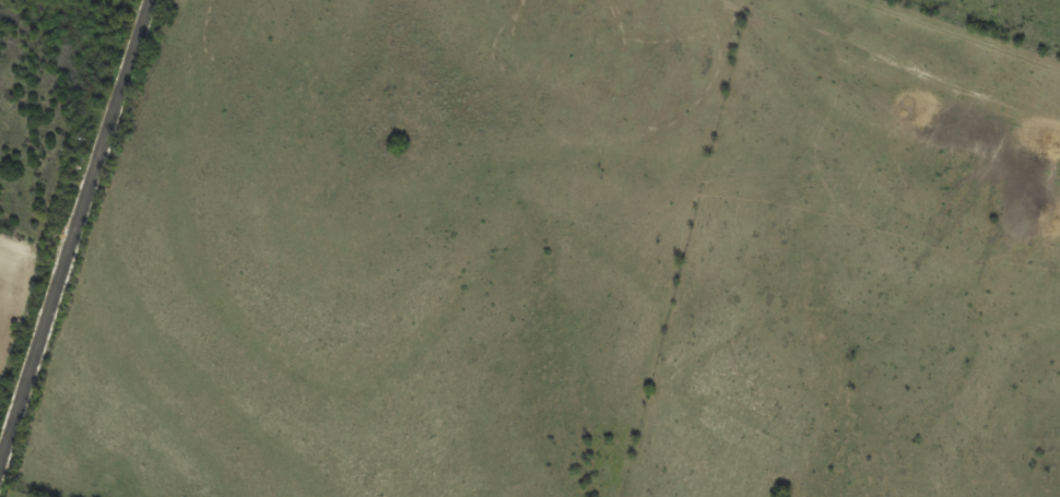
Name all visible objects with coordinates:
road: (74, 230)

